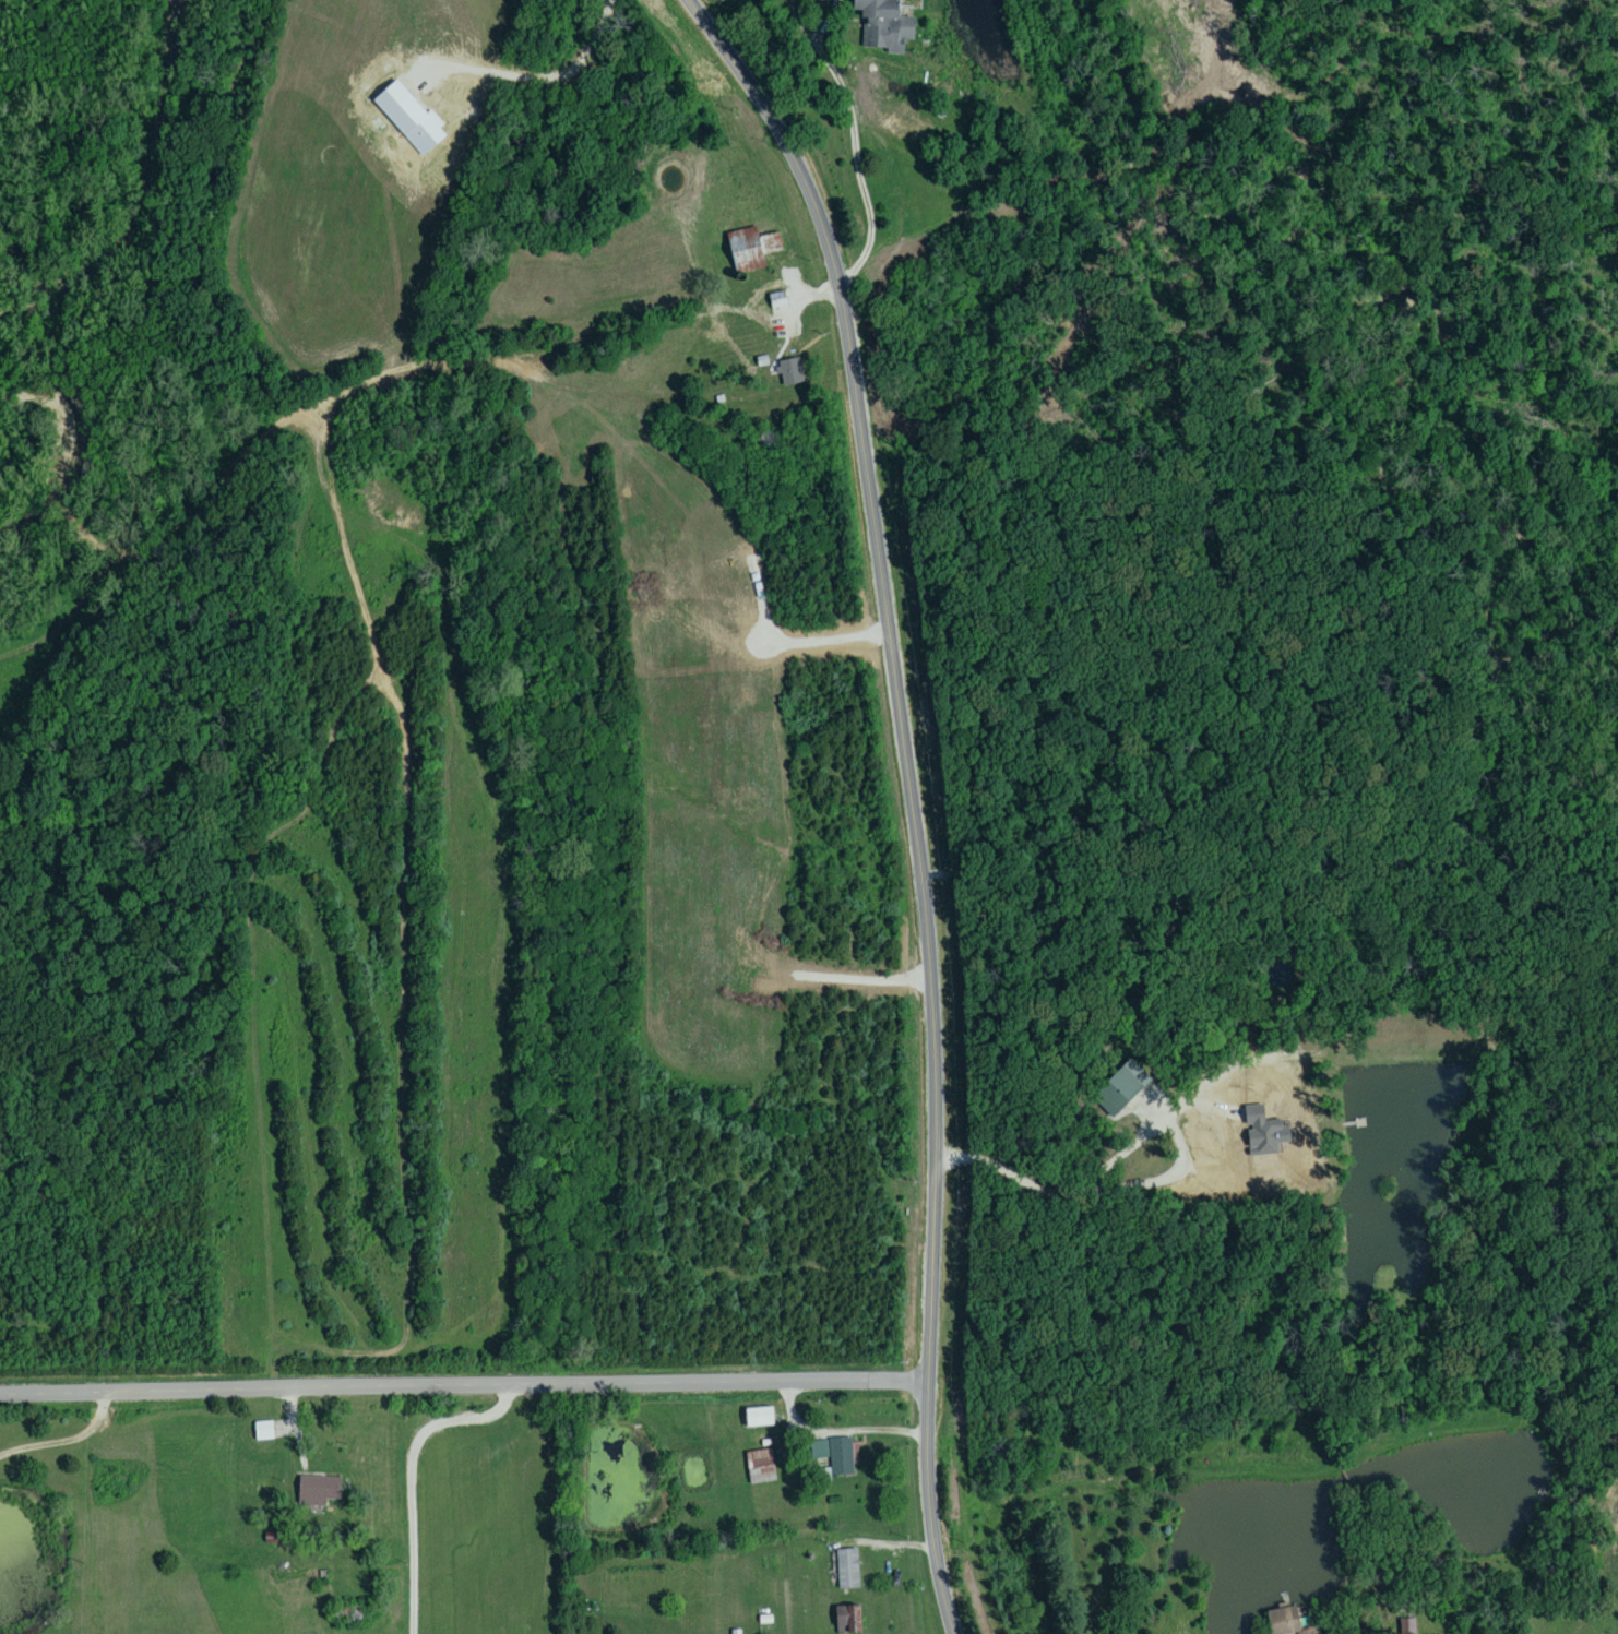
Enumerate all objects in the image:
building: (883, 26)
road: (848, 138)
building: (753, 250)
building: (789, 372)
road: (908, 796)
road: (1137, 1182)
road: (464, 1384)
building: (758, 1418)
road: (838, 1428)
building: (273, 1431)
road: (64, 1438)
building: (834, 1455)
building: (761, 1467)
road: (412, 1471)
building: (319, 1491)
building: (847, 1570)
building: (345, 1617)
building: (1289, 1621)

